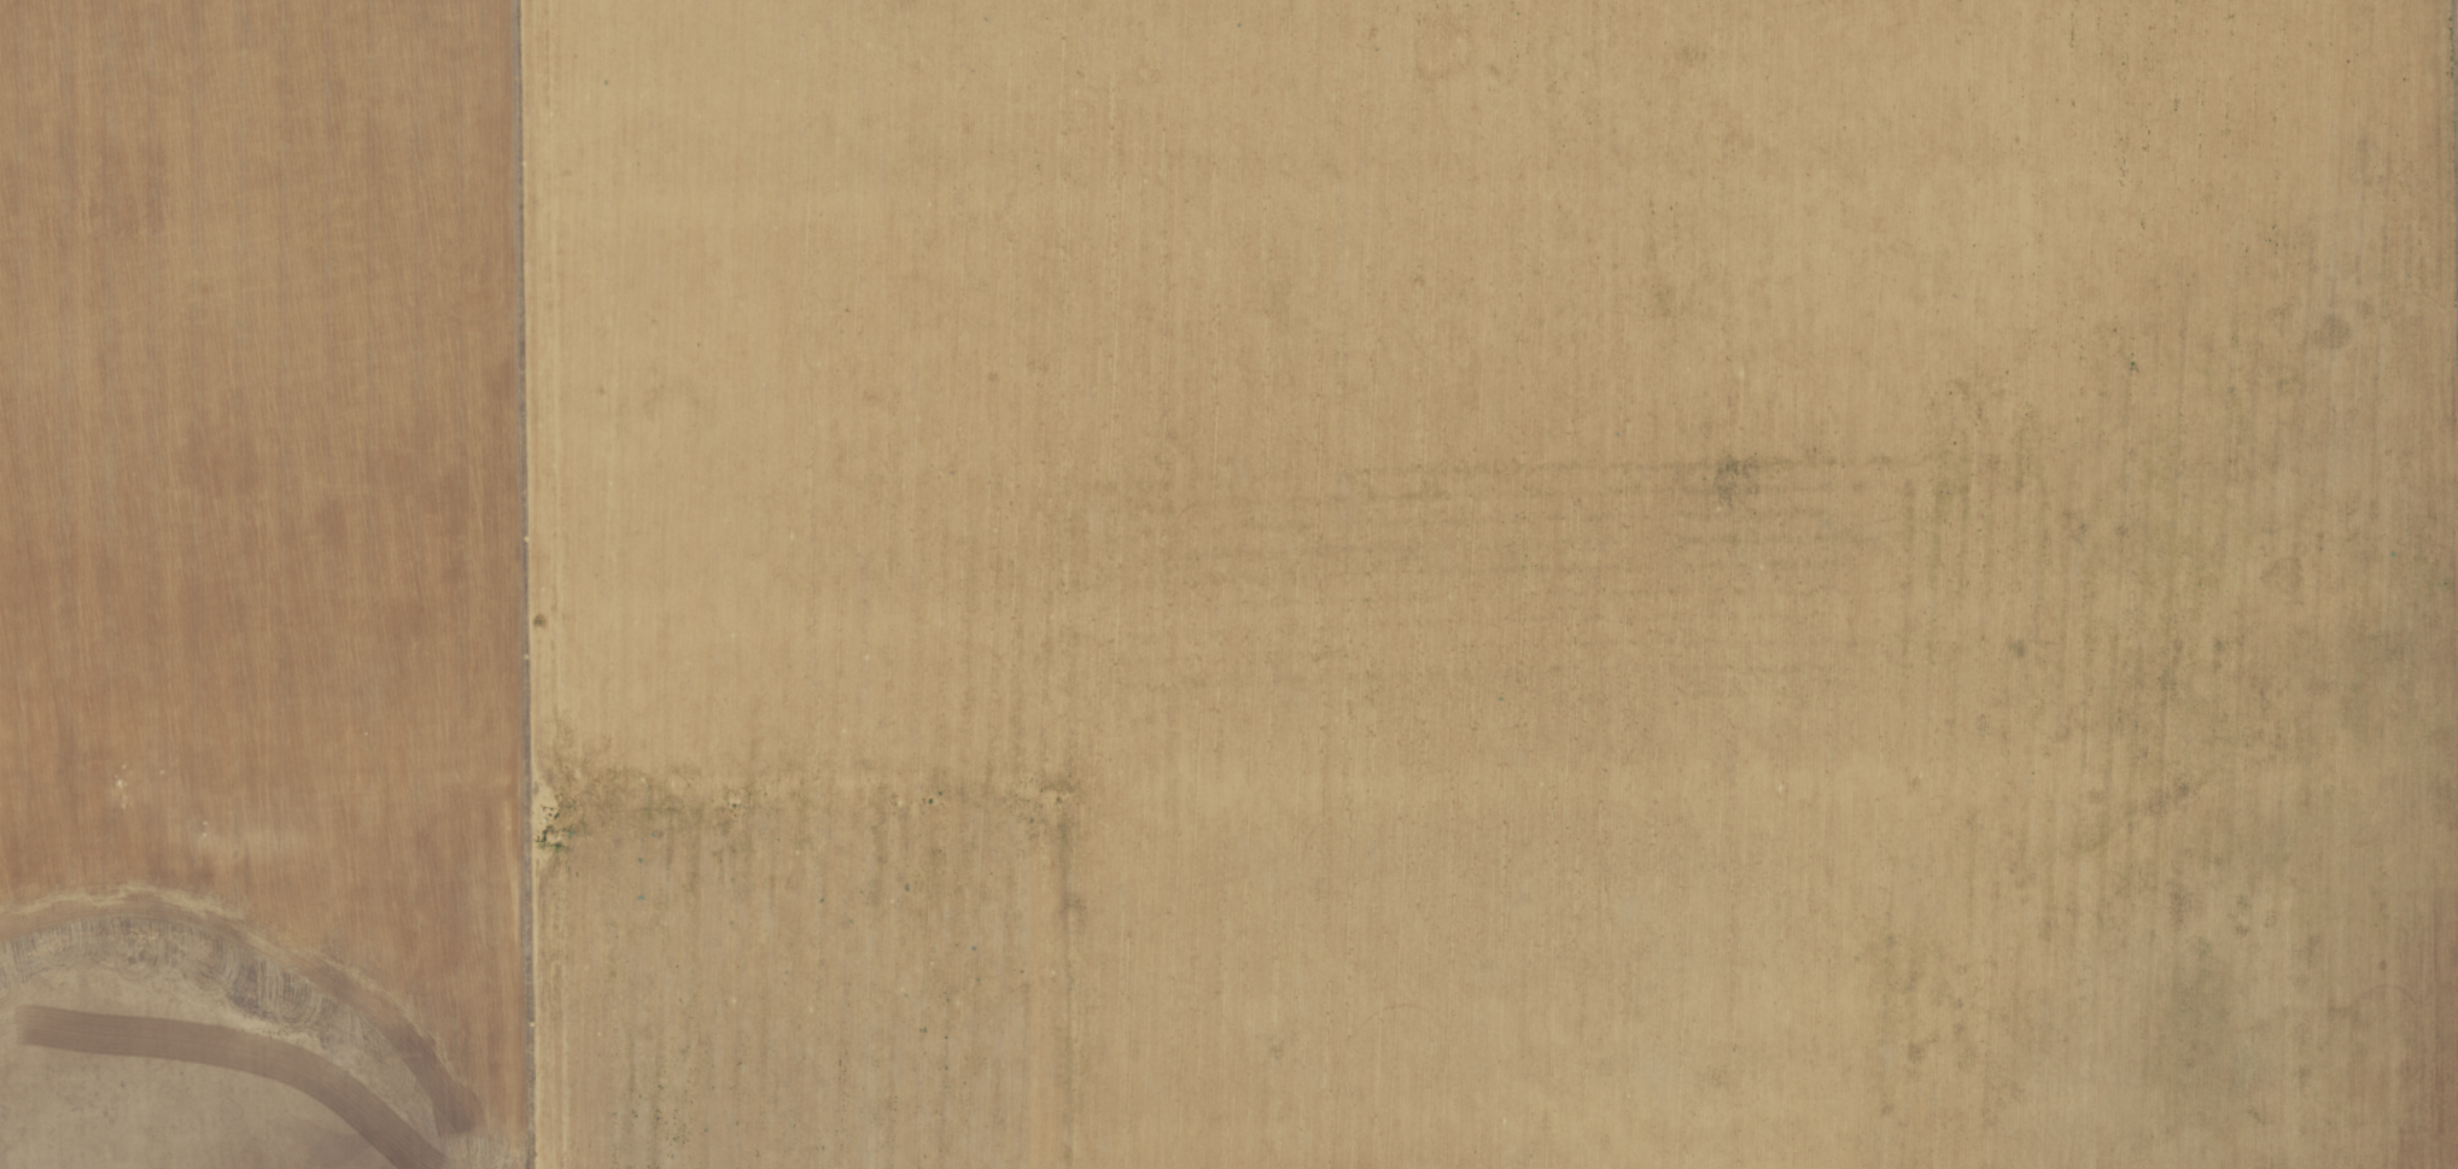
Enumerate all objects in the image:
road: (551, 808)

